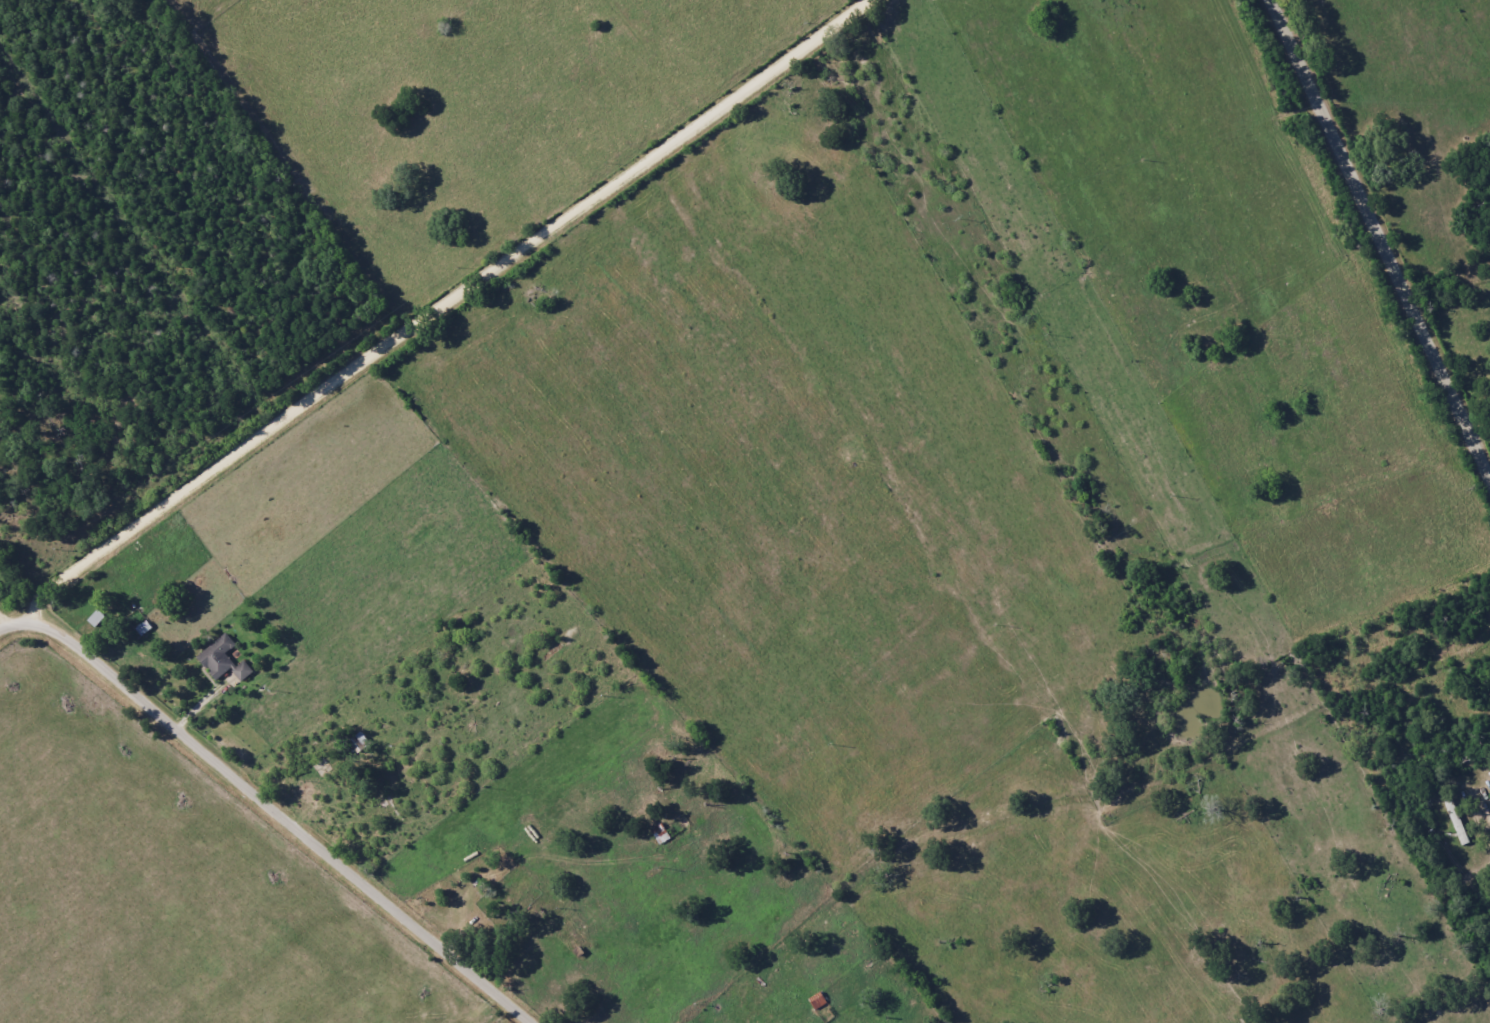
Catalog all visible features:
road: (1381, 231)
road: (451, 302)
road: (6, 620)
building: (144, 628)
building: (218, 657)
building: (243, 671)
road: (273, 803)
building: (661, 834)

